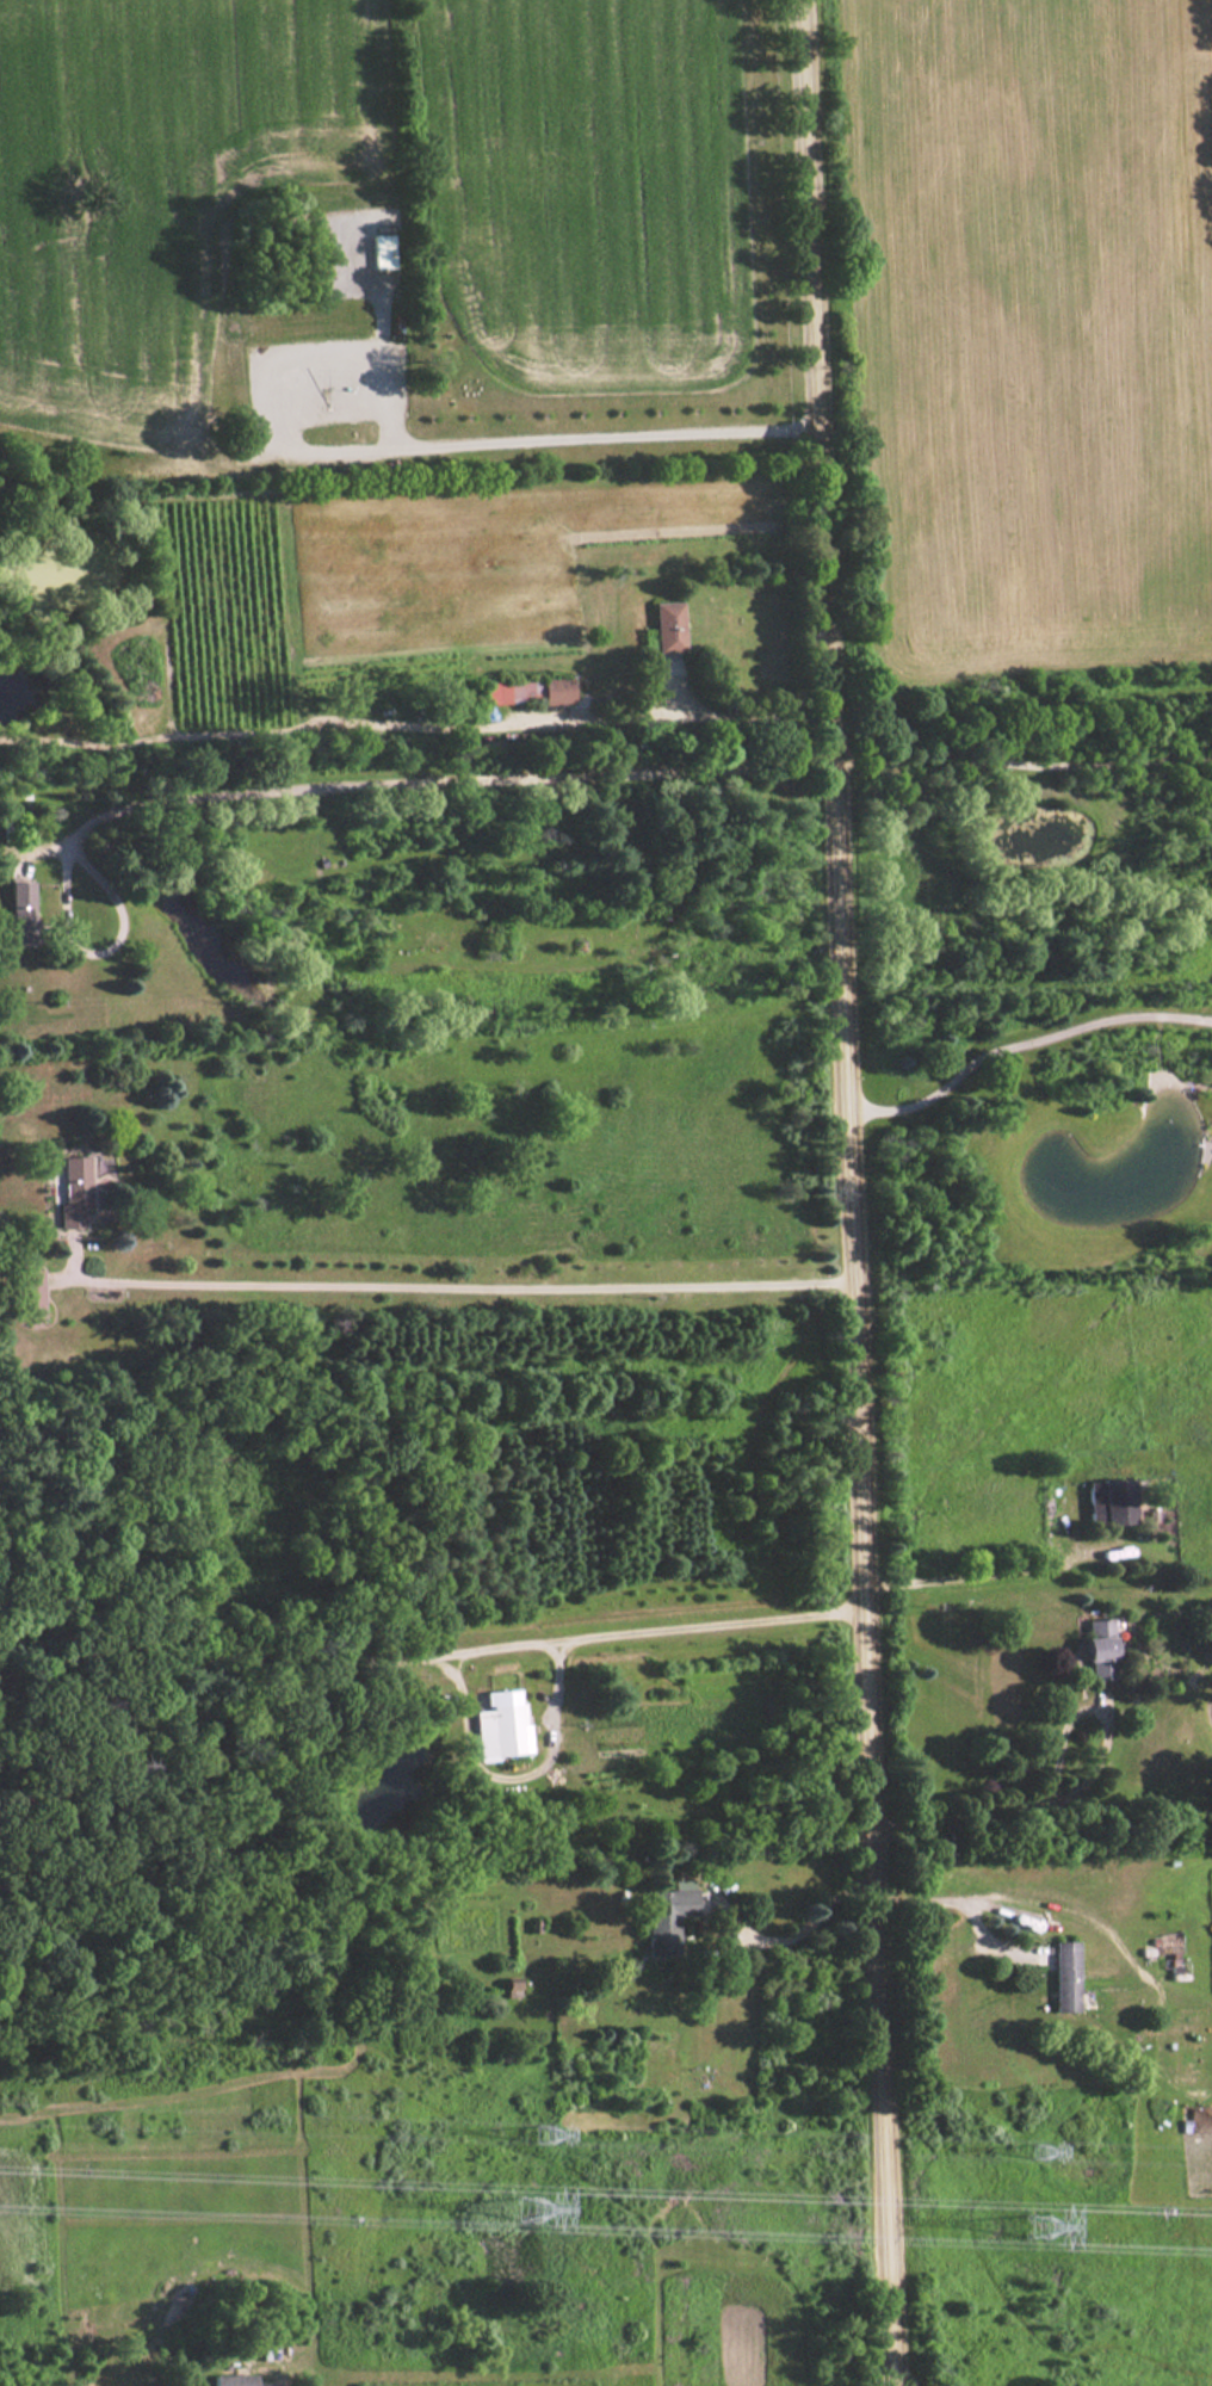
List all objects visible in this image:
road: (825, 466)
building: (669, 625)
building: (530, 690)
road: (514, 718)
road: (1024, 760)
road: (311, 785)
building: (23, 913)
road: (1022, 1037)
building: (74, 1191)
road: (458, 1284)
building: (30, 1292)
building: (1111, 1501)
road: (979, 1566)
building: (1094, 1645)
road: (431, 1653)
road: (873, 1659)
building: (502, 1723)
road: (1086, 1786)
road: (965, 1906)
road: (817, 1909)
building: (666, 1915)
building: (1062, 1974)
power tower: (543, 2132)
power tower: (1041, 2150)
power tower: (532, 2205)
power tower: (1037, 2224)
building: (234, 2379)

